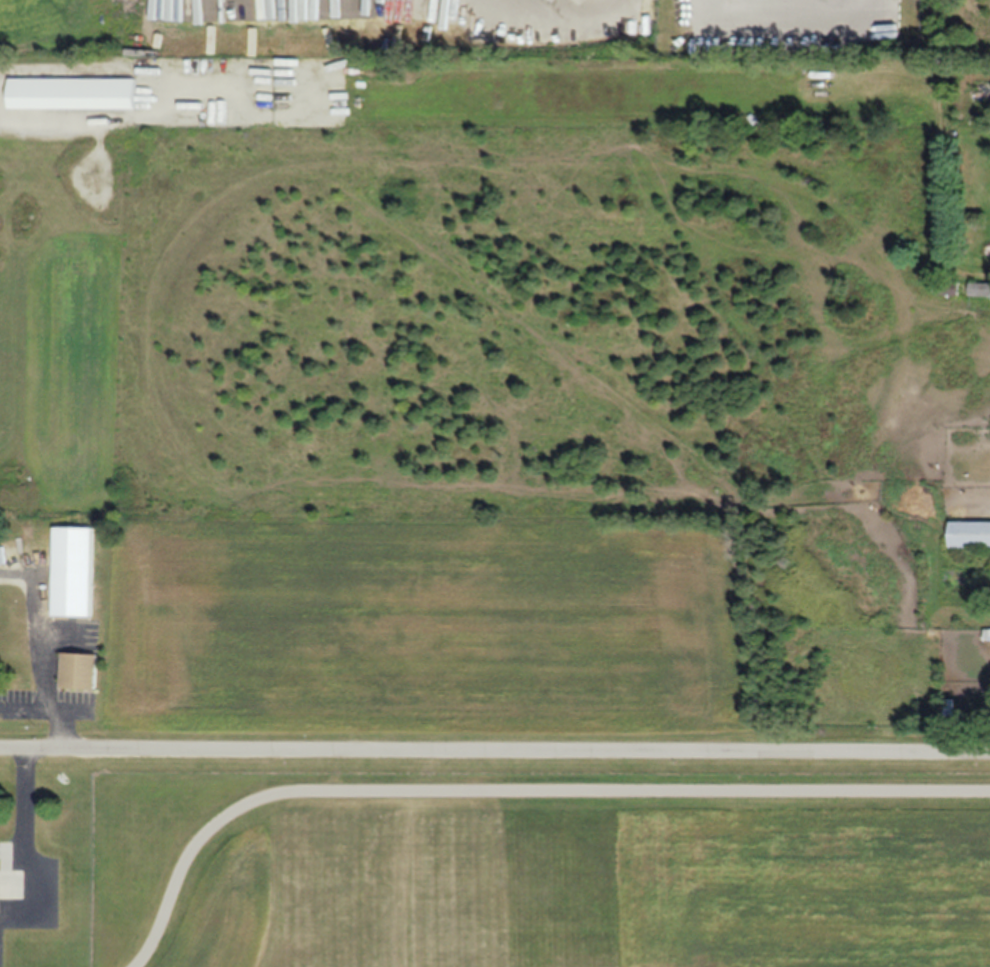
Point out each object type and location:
building: (73, 94)
building: (886, 112)
building: (945, 288)
building: (978, 289)
building: (969, 535)
building: (74, 570)
road: (41, 661)
building: (79, 670)
road: (495, 751)
road: (23, 820)
airport: (539, 861)

